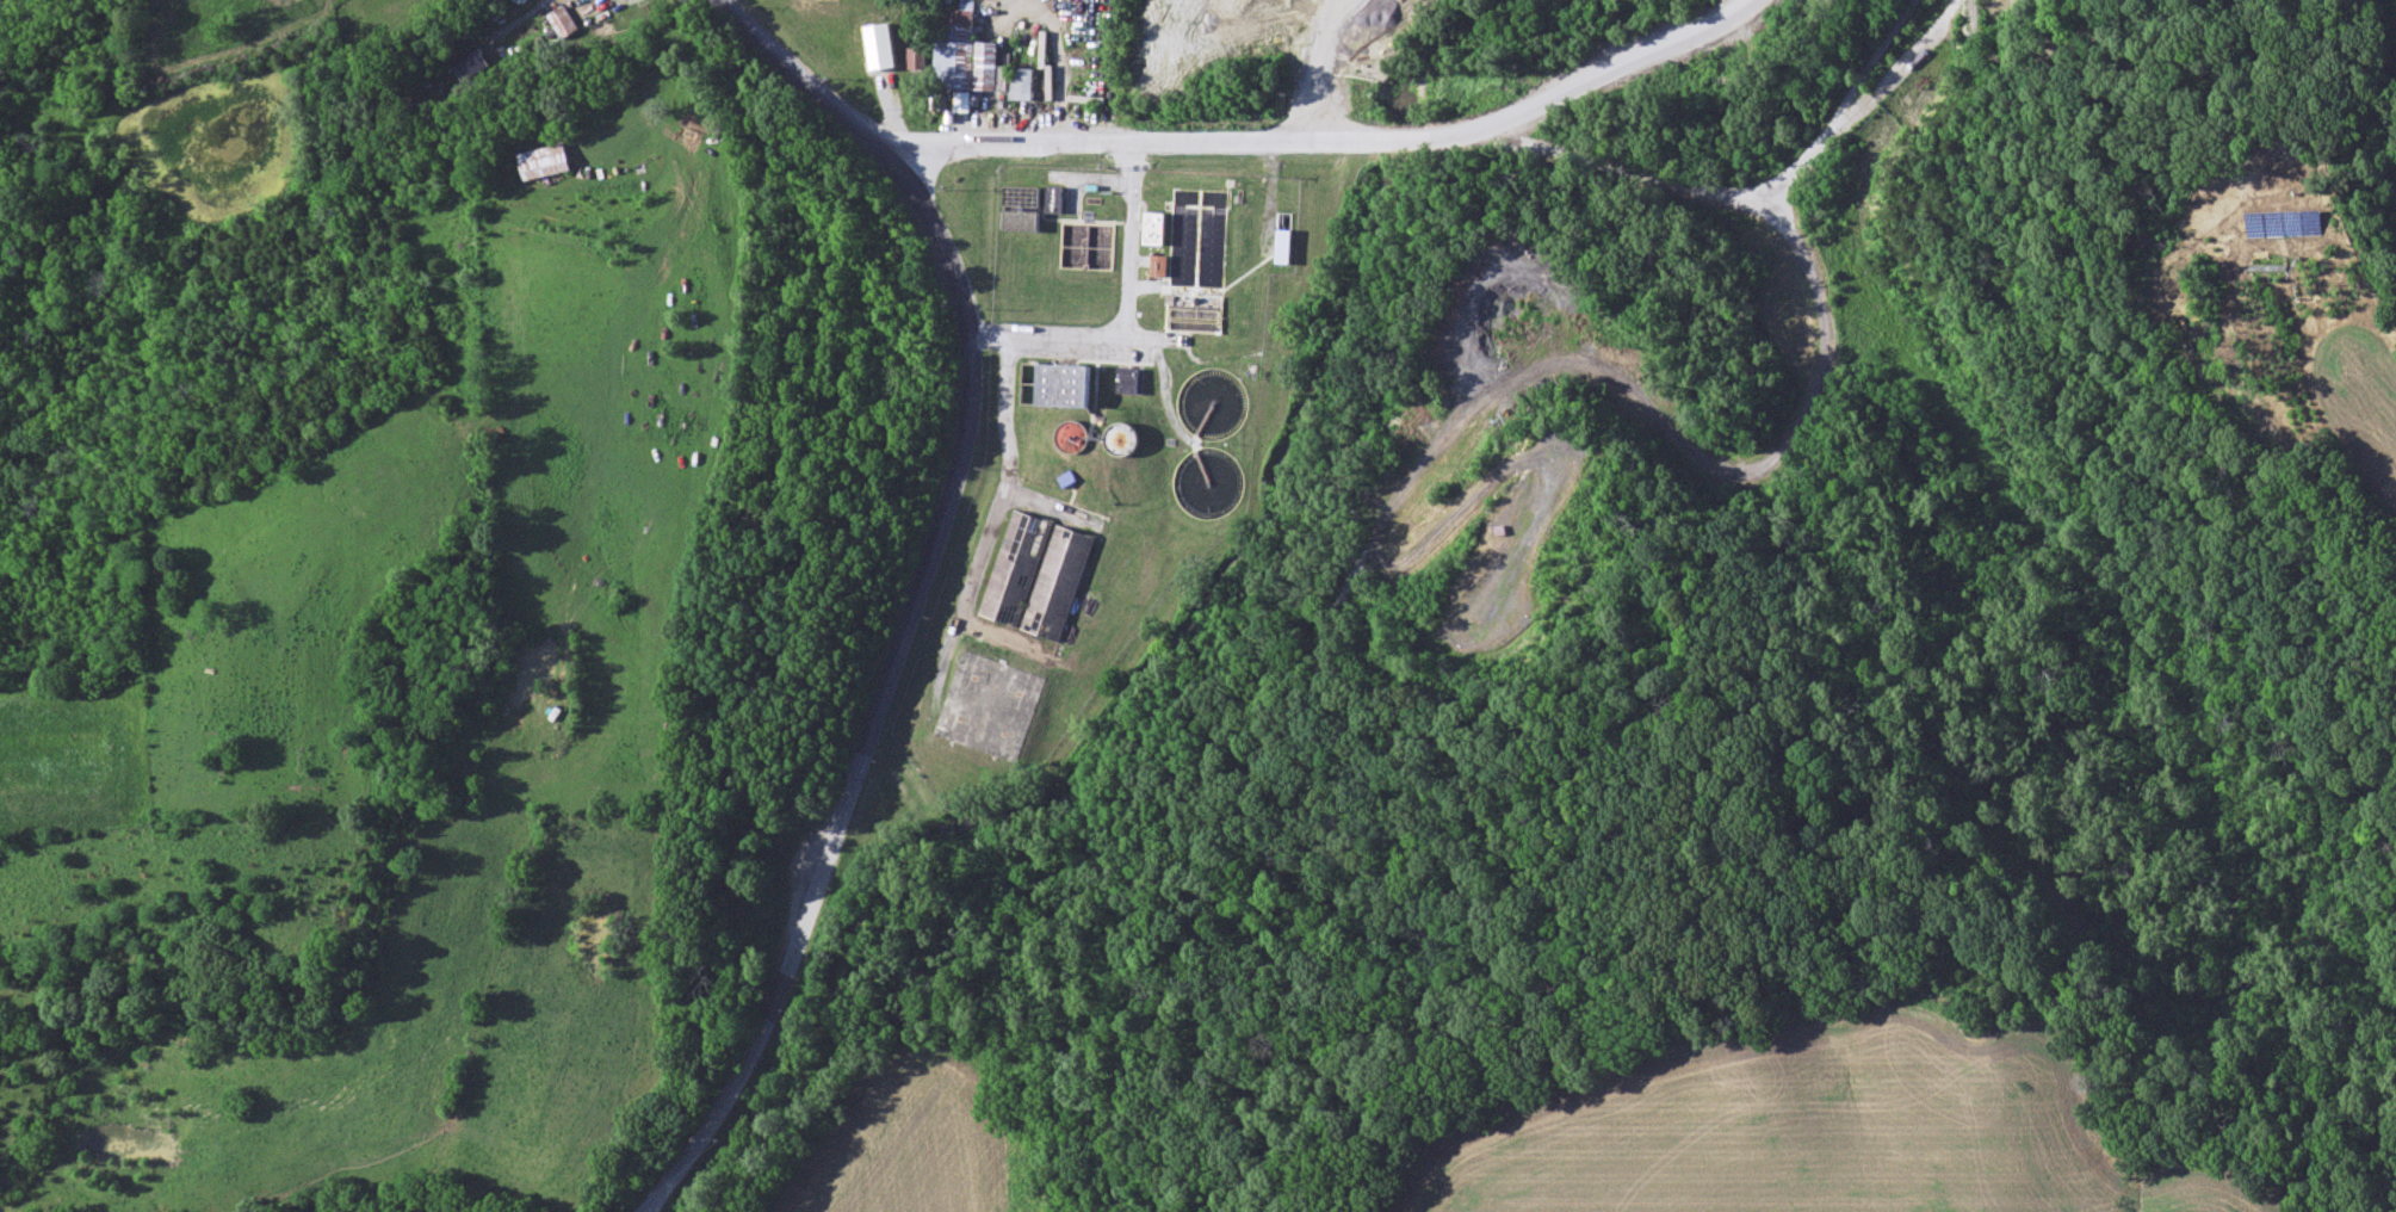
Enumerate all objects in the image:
road: (1584, 82)
road: (1862, 82)
road: (1147, 144)
road: (1720, 196)
wastewater plant: (1091, 450)
road: (918, 589)

